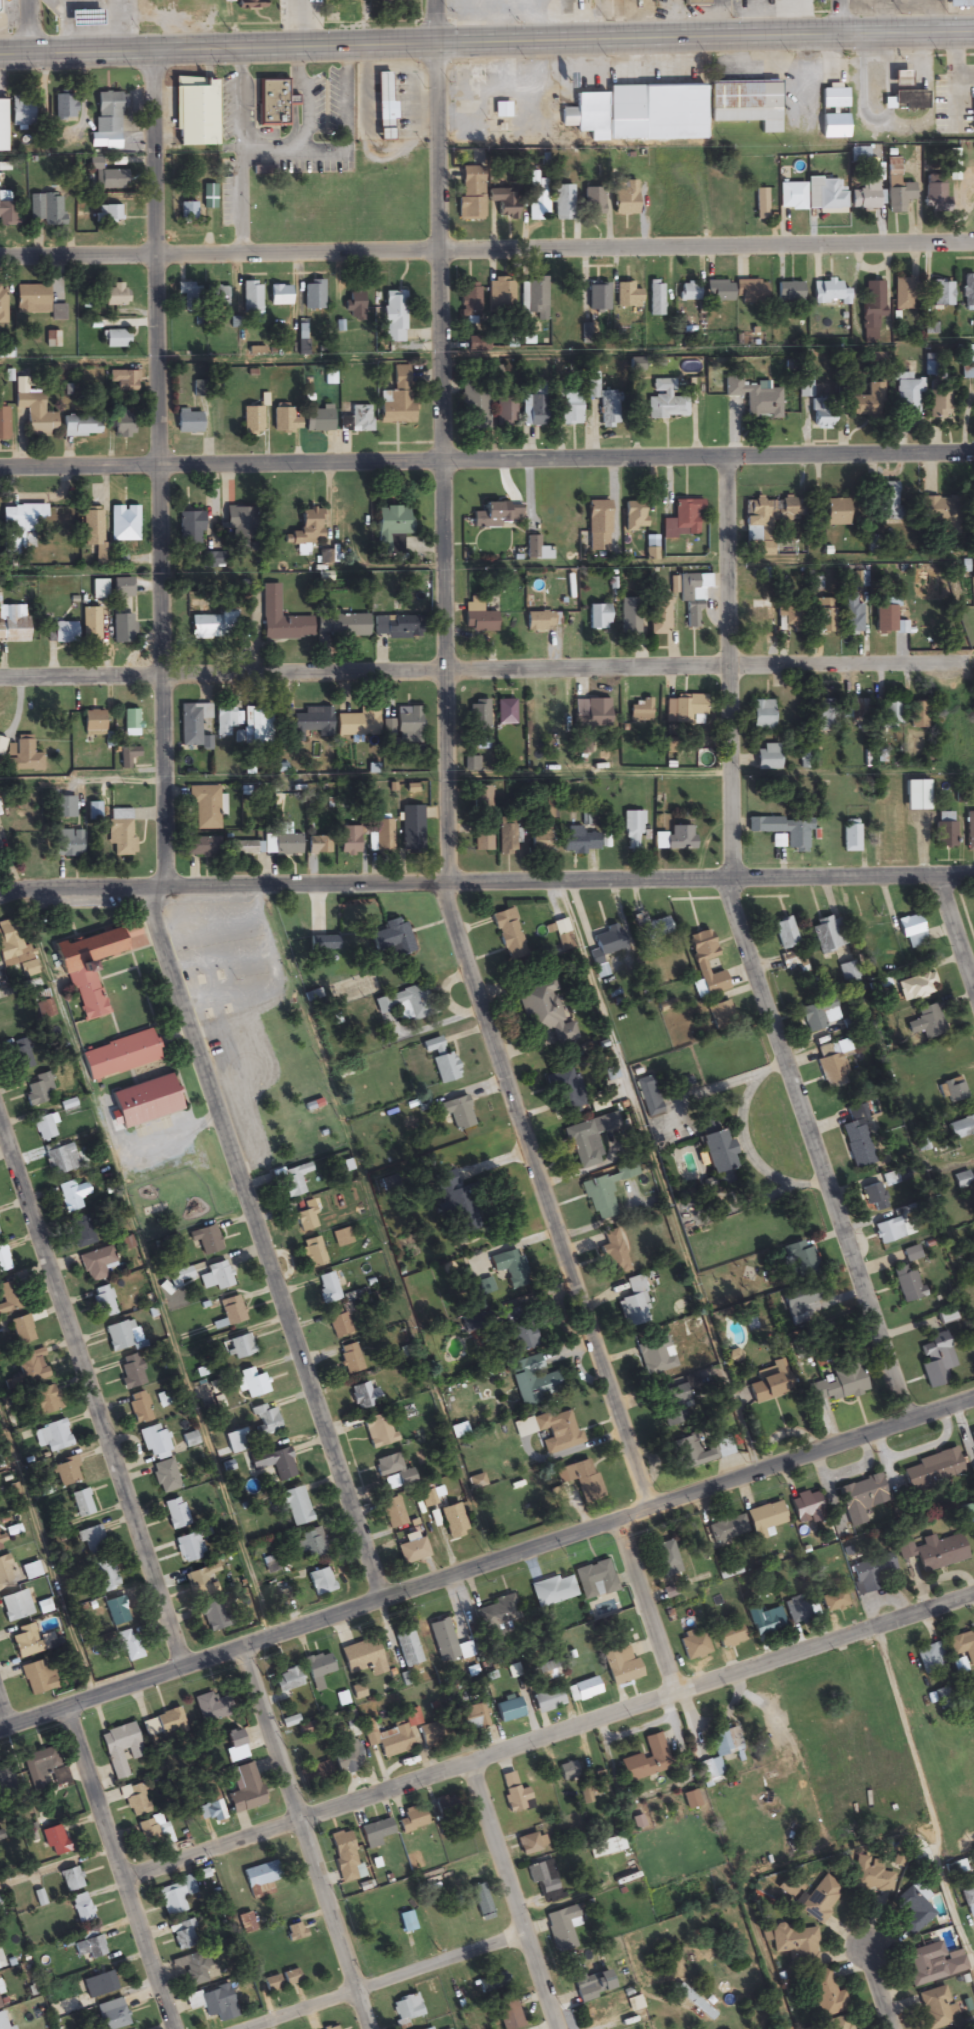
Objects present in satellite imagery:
building: (348, 2)
building: (388, 2)
building: (190, 3)
building: (694, 3)
building: (961, 3)
building: (248, 4)
road: (838, 16)
building: (81, 19)
road: (26, 25)
road: (486, 39)
road: (953, 64)
building: (898, 81)
building: (907, 101)
building: (272, 104)
building: (745, 104)
building: (63, 107)
building: (383, 107)
building: (21, 113)
building: (107, 113)
building: (195, 113)
building: (833, 114)
building: (642, 116)
building: (973, 117)
building: (1, 126)
building: (858, 154)
building: (952, 165)
building: (108, 178)
building: (896, 188)
building: (933, 193)
building: (469, 195)
building: (811, 196)
building: (864, 197)
building: (623, 198)
building: (503, 203)
building: (536, 203)
building: (560, 203)
building: (592, 203)
building: (47, 210)
building: (7, 212)
building: (186, 212)
building: (109, 215)
road: (486, 245)
building: (718, 292)
building: (748, 292)
building: (689, 293)
building: (788, 293)
building: (829, 293)
building: (186, 294)
building: (941, 294)
building: (968, 294)
building: (904, 295)
building: (113, 296)
building: (279, 296)
building: (313, 296)
building: (627, 296)
building: (217, 297)
building: (251, 297)
building: (500, 297)
building: (597, 298)
building: (31, 299)
building: (534, 299)
building: (655, 299)
building: (469, 300)
building: (2, 305)
building: (354, 307)
building: (872, 312)
building: (393, 318)
building: (115, 340)
building: (477, 344)
building: (52, 346)
building: (963, 356)
road: (81, 362)
building: (634, 365)
building: (966, 374)
building: (122, 382)
building: (905, 397)
building: (396, 399)
building: (754, 399)
building: (603, 402)
building: (664, 402)
building: (865, 404)
building: (472, 405)
building: (939, 406)
building: (533, 409)
building: (570, 409)
building: (33, 411)
building: (504, 412)
building: (821, 414)
building: (360, 419)
building: (284, 422)
building: (319, 422)
building: (187, 423)
building: (251, 423)
building: (4, 424)
building: (121, 425)
building: (80, 426)
road: (487, 461)
building: (885, 502)
building: (834, 513)
building: (934, 513)
building: (497, 514)
building: (972, 515)
building: (633, 516)
building: (235, 519)
building: (682, 520)
building: (765, 523)
building: (123, 524)
building: (308, 526)
building: (390, 526)
building: (597, 526)
building: (18, 528)
building: (188, 528)
building: (98, 540)
building: (210, 561)
road: (616, 563)
building: (118, 588)
building: (98, 589)
building: (690, 599)
building: (851, 615)
building: (477, 616)
building: (658, 616)
building: (758, 616)
building: (823, 616)
building: (598, 617)
building: (886, 619)
building: (535, 622)
building: (629, 622)
building: (282, 623)
building: (13, 624)
building: (89, 626)
building: (348, 626)
building: (210, 627)
building: (394, 627)
building: (122, 629)
building: (63, 633)
road: (484, 672)
building: (685, 710)
building: (639, 711)
building: (856, 711)
building: (504, 713)
building: (590, 713)
building: (889, 714)
building: (761, 715)
building: (826, 715)
building: (916, 715)
building: (477, 716)
building: (92, 721)
building: (130, 721)
building: (358, 723)
building: (242, 724)
building: (310, 724)
building: (407, 725)
building: (193, 726)
building: (23, 757)
building: (127, 757)
building: (766, 758)
building: (471, 764)
road: (568, 776)
road: (81, 782)
building: (915, 795)
building: (480, 801)
building: (64, 807)
building: (205, 807)
building: (411, 830)
building: (782, 830)
building: (631, 831)
building: (969, 831)
building: (120, 832)
building: (540, 834)
building: (944, 835)
building: (505, 836)
building: (481, 837)
building: (849, 837)
building: (381, 838)
building: (674, 839)
building: (579, 840)
building: (347, 841)
road: (161, 842)
building: (67, 844)
building: (281, 844)
building: (318, 846)
building: (202, 847)
building: (244, 848)
road: (446, 873)
road: (495, 883)
road: (8, 892)
building: (651, 927)
road: (956, 930)
building: (911, 931)
building: (784, 934)
building: (508, 935)
building: (827, 935)
building: (392, 938)
building: (10, 941)
building: (322, 944)
building: (604, 948)
road: (745, 950)
building: (705, 963)
building: (29, 970)
building: (848, 972)
building: (83, 974)
building: (915, 986)
building: (406, 1004)
building: (719, 1011)
building: (544, 1012)
building: (819, 1014)
building: (926, 1022)
building: (118, 1056)
building: (21, 1058)
building: (440, 1061)
building: (833, 1063)
building: (952, 1091)
building: (566, 1093)
building: (33, 1094)
building: (648, 1096)
building: (143, 1102)
building: (455, 1113)
building: (44, 1128)
building: (960, 1128)
building: (857, 1139)
building: (588, 1140)
building: (714, 1151)
building: (60, 1159)
building: (294, 1180)
building: (605, 1192)
building: (71, 1196)
building: (874, 1198)
building: (452, 1203)
building: (305, 1218)
building: (893, 1229)
building: (81, 1232)
building: (205, 1240)
building: (312, 1253)
building: (613, 1253)
building: (910, 1254)
building: (797, 1259)
building: (3, 1260)
building: (96, 1264)
road: (144, 1264)
building: (508, 1268)
building: (180, 1277)
building: (216, 1277)
building: (907, 1284)
building: (327, 1288)
building: (8, 1298)
building: (799, 1300)
building: (103, 1302)
building: (634, 1305)
building: (231, 1311)
building: (338, 1323)
building: (521, 1330)
building: (21, 1331)
building: (121, 1335)
building: (241, 1347)
building: (653, 1358)
building: (349, 1359)
building: (936, 1360)
building: (31, 1367)
building: (131, 1373)
building: (533, 1380)
building: (838, 1380)
building: (769, 1383)
building: (252, 1384)
road: (91, 1395)
building: (363, 1396)
building: (41, 1402)
building: (671, 1405)
building: (139, 1409)
building: (265, 1421)
building: (376, 1431)
building: (557, 1432)
building: (54, 1437)
building: (972, 1437)
building: (154, 1442)
building: (689, 1454)
building: (280, 1465)
building: (932, 1469)
building: (393, 1470)
building: (66, 1472)
building: (165, 1477)
building: (580, 1480)
building: (860, 1499)
building: (81, 1503)
building: (295, 1507)
building: (805, 1507)
building: (392, 1513)
building: (175, 1514)
building: (967, 1514)
building: (763, 1518)
building: (451, 1522)
building: (727, 1529)
building: (92, 1541)
building: (311, 1545)
building: (0, 1546)
building: (189, 1549)
building: (411, 1551)
building: (932, 1552)
building: (666, 1559)
road: (45, 1562)
road: (487, 1564)
building: (5, 1571)
building: (30, 1572)
building: (870, 1573)
building: (107, 1575)
building: (594, 1580)
building: (201, 1582)
building: (319, 1582)
building: (552, 1590)
building: (833, 1600)
building: (15, 1606)
building: (44, 1607)
building: (117, 1611)
building: (796, 1611)
building: (496, 1615)
building: (212, 1617)
building: (760, 1621)
building: (728, 1635)
building: (442, 1640)
building: (24, 1642)
building: (693, 1645)
building: (129, 1646)
building: (962, 1647)
building: (407, 1648)
building: (360, 1656)
building: (929, 1658)
building: (318, 1666)
building: (620, 1666)
building: (544, 1672)
building: (36, 1679)
building: (287, 1681)
building: (583, 1690)
building: (547, 1701)
building: (206, 1709)
building: (508, 1710)
road: (4, 1714)
building: (473, 1717)
building: (411, 1718)
building: (169, 1723)
building: (424, 1735)
road: (548, 1736)
building: (232, 1740)
building: (393, 1742)
building: (120, 1749)
building: (719, 1753)
building: (346, 1757)
building: (646, 1761)
building: (43, 1769)
building: (566, 1772)
building: (310, 1774)
building: (1, 1783)
building: (245, 1792)
building: (514, 1794)
building: (690, 1800)
building: (134, 1801)
building: (446, 1807)
building: (211, 1808)
building: (412, 1820)
building: (154, 1832)
building: (375, 1833)
road: (305, 1838)
building: (53, 1841)
building: (527, 1845)
building: (606, 1847)
building: (343, 1857)
road: (120, 1868)
building: (258, 1876)
building: (542, 1876)
building: (869, 1876)
building: (71, 1879)
building: (968, 1893)
building: (175, 1896)
road: (506, 1896)
building: (820, 1899)
building: (481, 1903)
building: (81, 1908)
building: (913, 1909)
building: (562, 1928)
building: (292, 1932)
building: (182, 1936)
building: (89, 1946)
building: (795, 1946)
road: (763, 1960)
building: (931, 1964)
building: (1, 1965)
building: (196, 1970)
building: (290, 1978)
road: (381, 1981)
building: (492, 1983)
building: (270, 1984)
building: (590, 1984)
road: (879, 1984)
building: (98, 1985)
building: (825, 1994)
building: (216, 2005)
building: (406, 2006)
building: (935, 2008)
building: (112, 2015)
building: (507, 2015)
building: (3, 2023)
building: (838, 2023)
building: (331, 2027)

